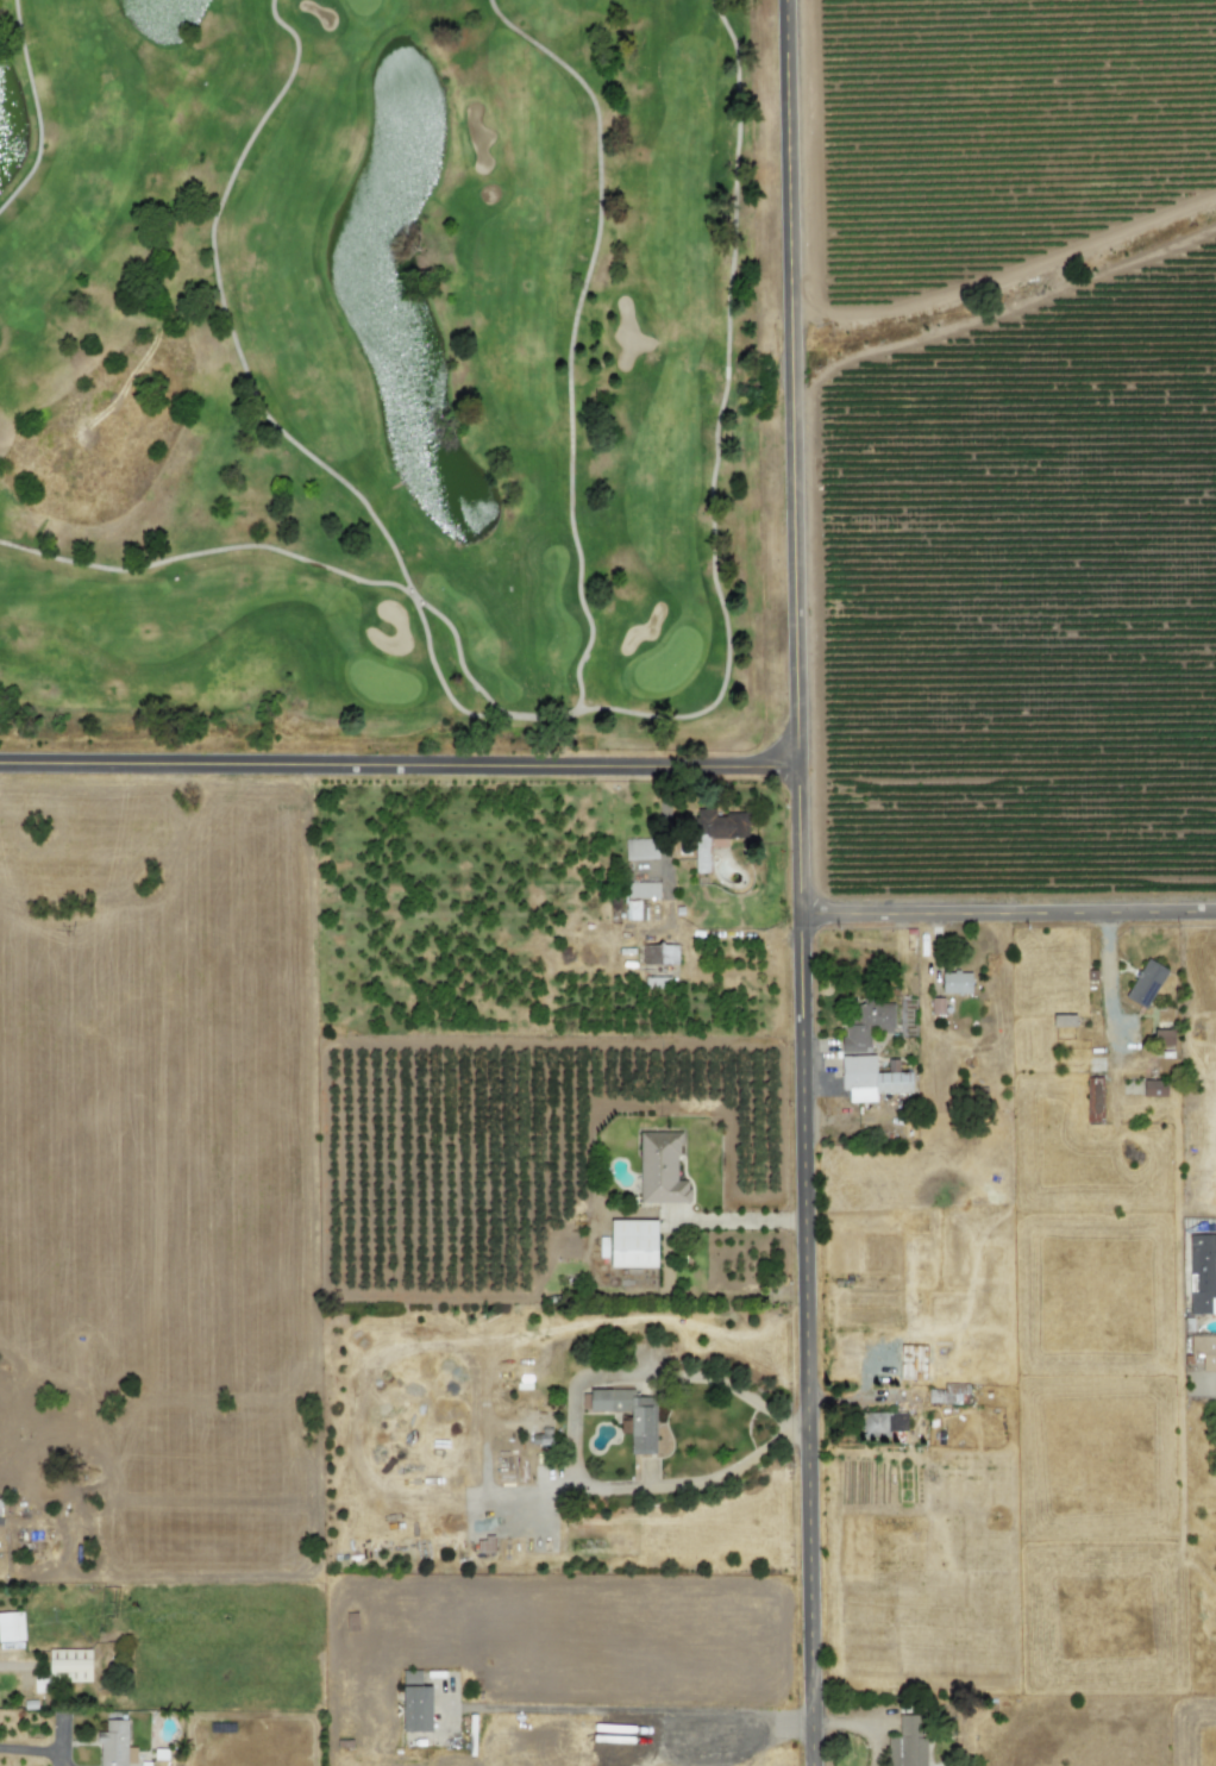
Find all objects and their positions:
road: (571, 334)
park: (399, 395)
road: (715, 453)
road: (416, 606)
road: (401, 765)
building: (714, 832)
building: (639, 848)
road: (803, 882)
building: (641, 890)
building: (632, 909)
road: (1010, 914)
building: (659, 954)
road: (1107, 979)
building: (955, 983)
building: (865, 1026)
building: (869, 1078)
building: (1154, 1088)
building: (659, 1169)
road: (738, 1219)
building: (632, 1244)
building: (1202, 1273)
building: (1204, 1351)
road: (737, 1394)
building: (629, 1415)
building: (882, 1423)
road: (723, 1472)
crop: (1020, 1476)
building: (11, 1627)
building: (70, 1664)
building: (415, 1703)
road: (637, 1709)
building: (907, 1742)
building: (114, 1745)
road: (35, 1748)

